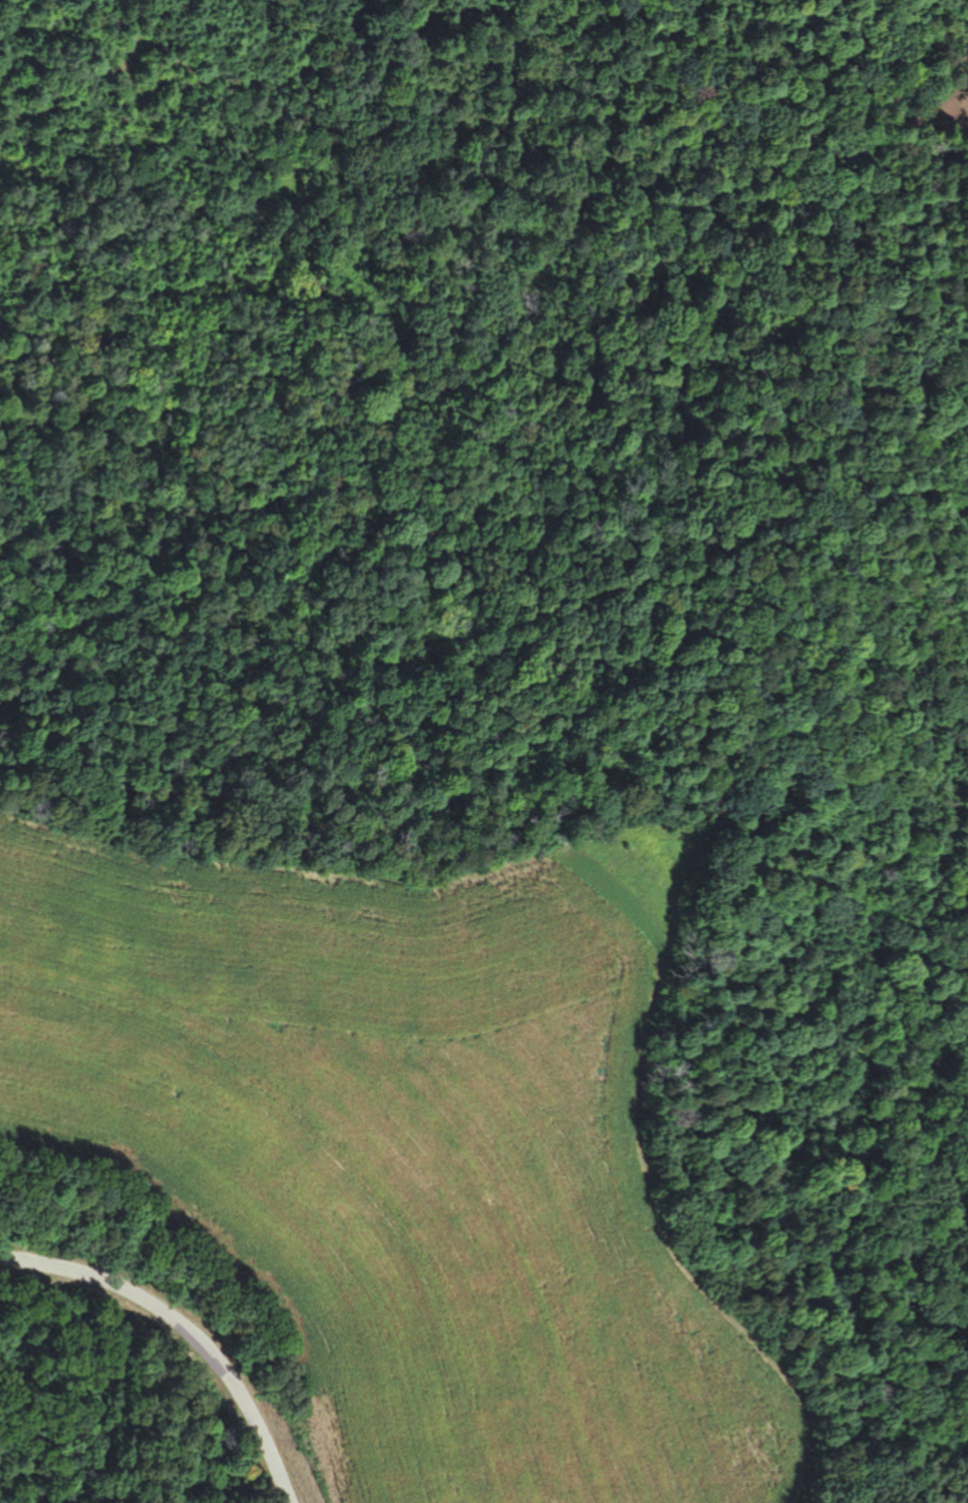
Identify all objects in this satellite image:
road: (188, 1327)

